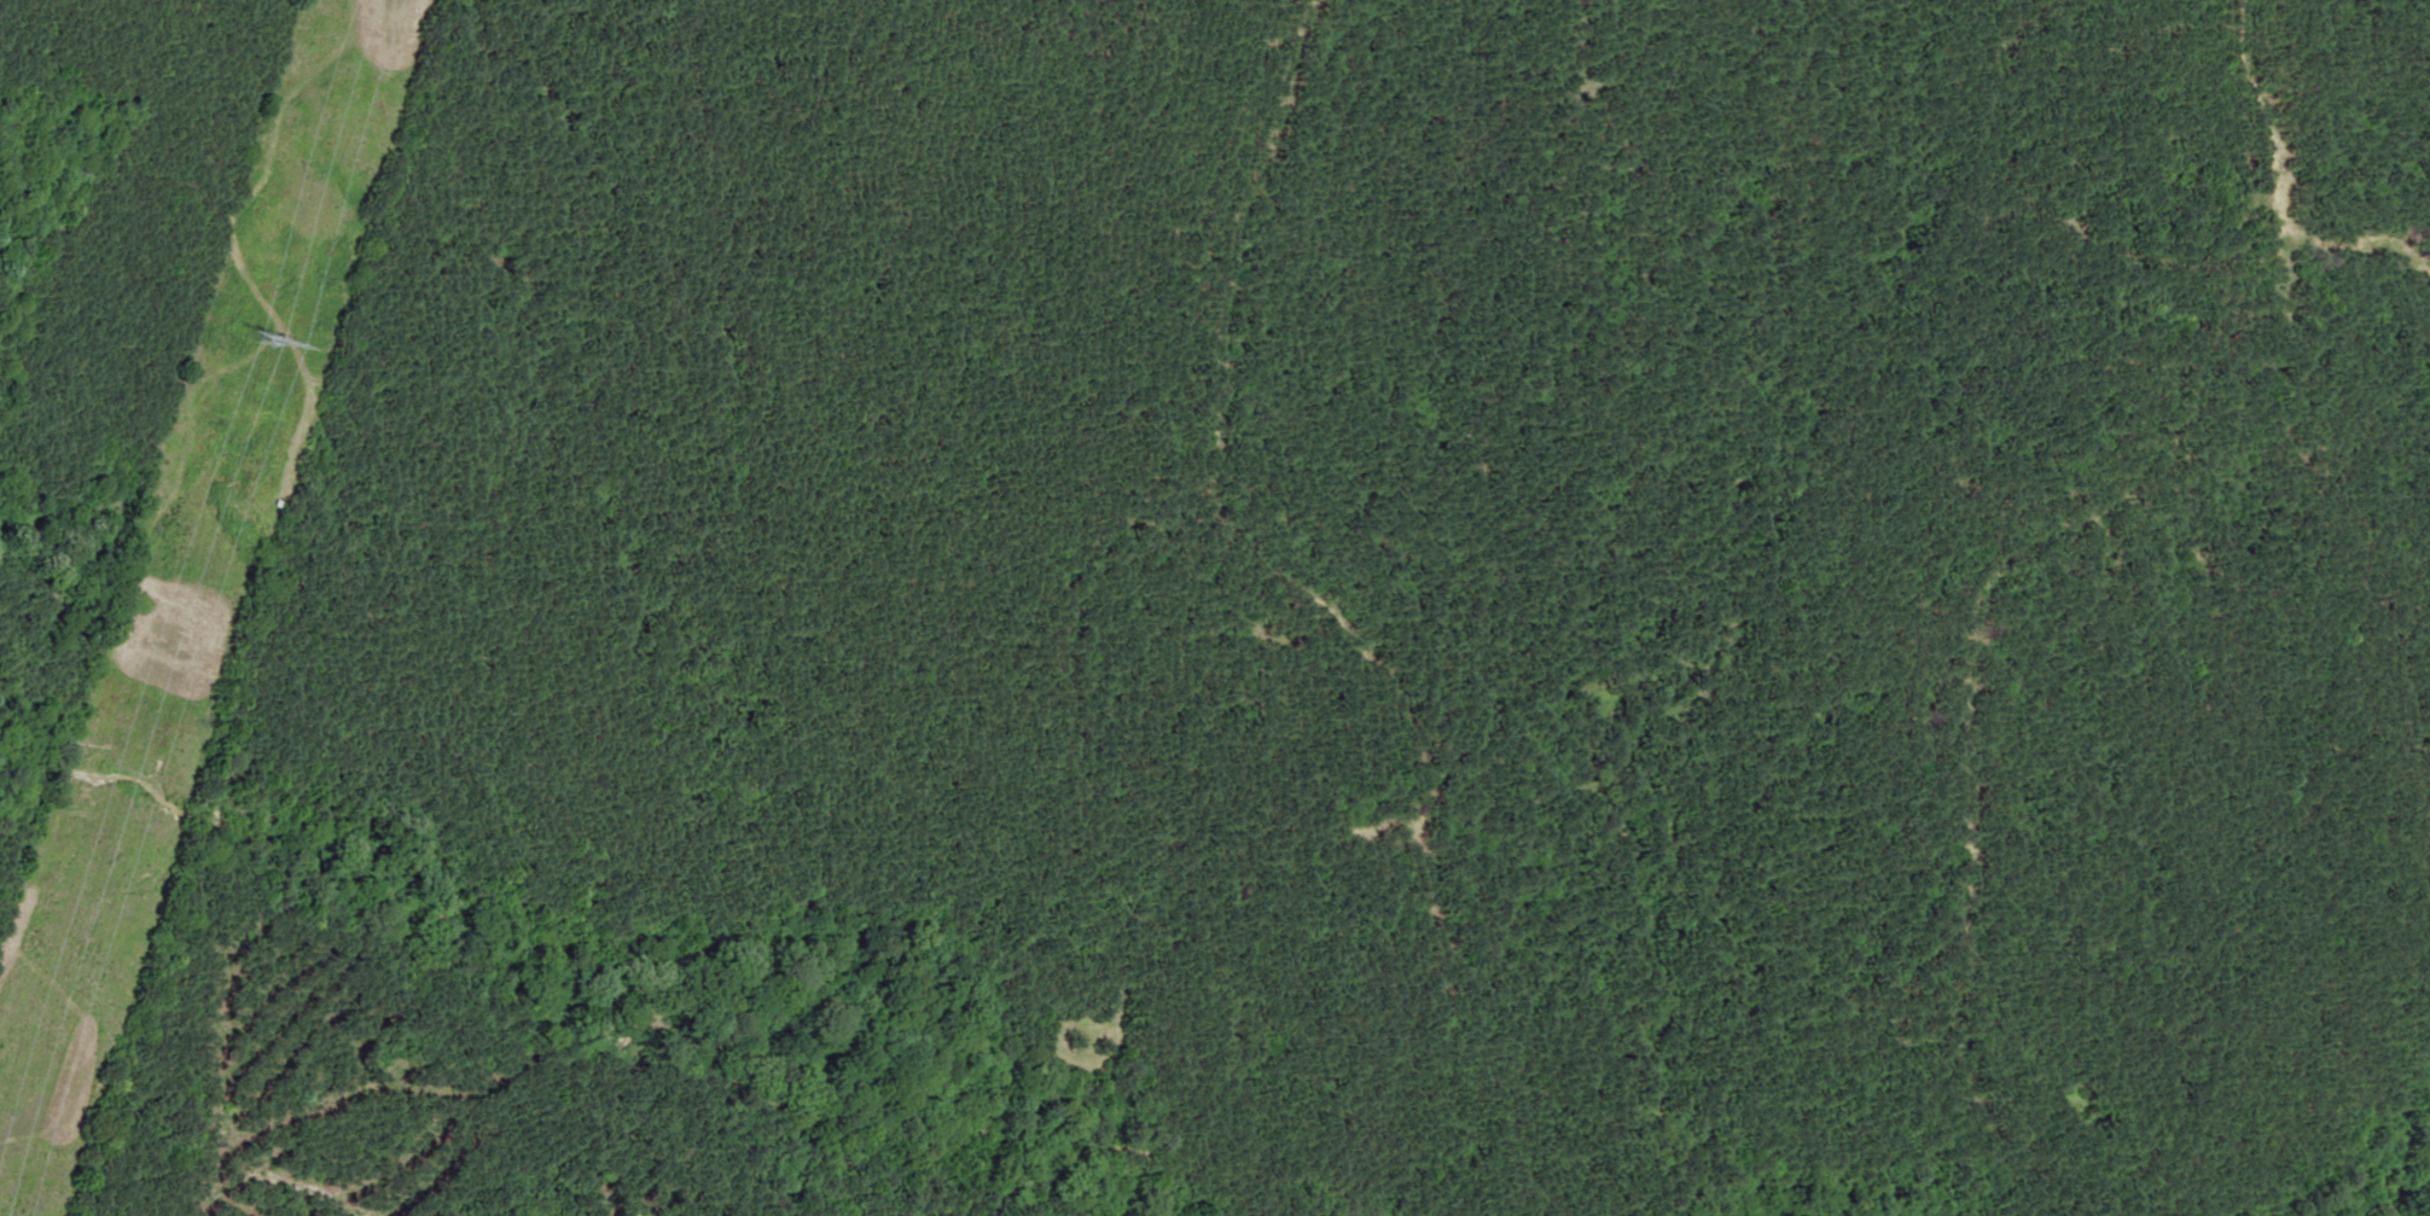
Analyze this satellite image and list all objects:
power tower: (256, 328)

